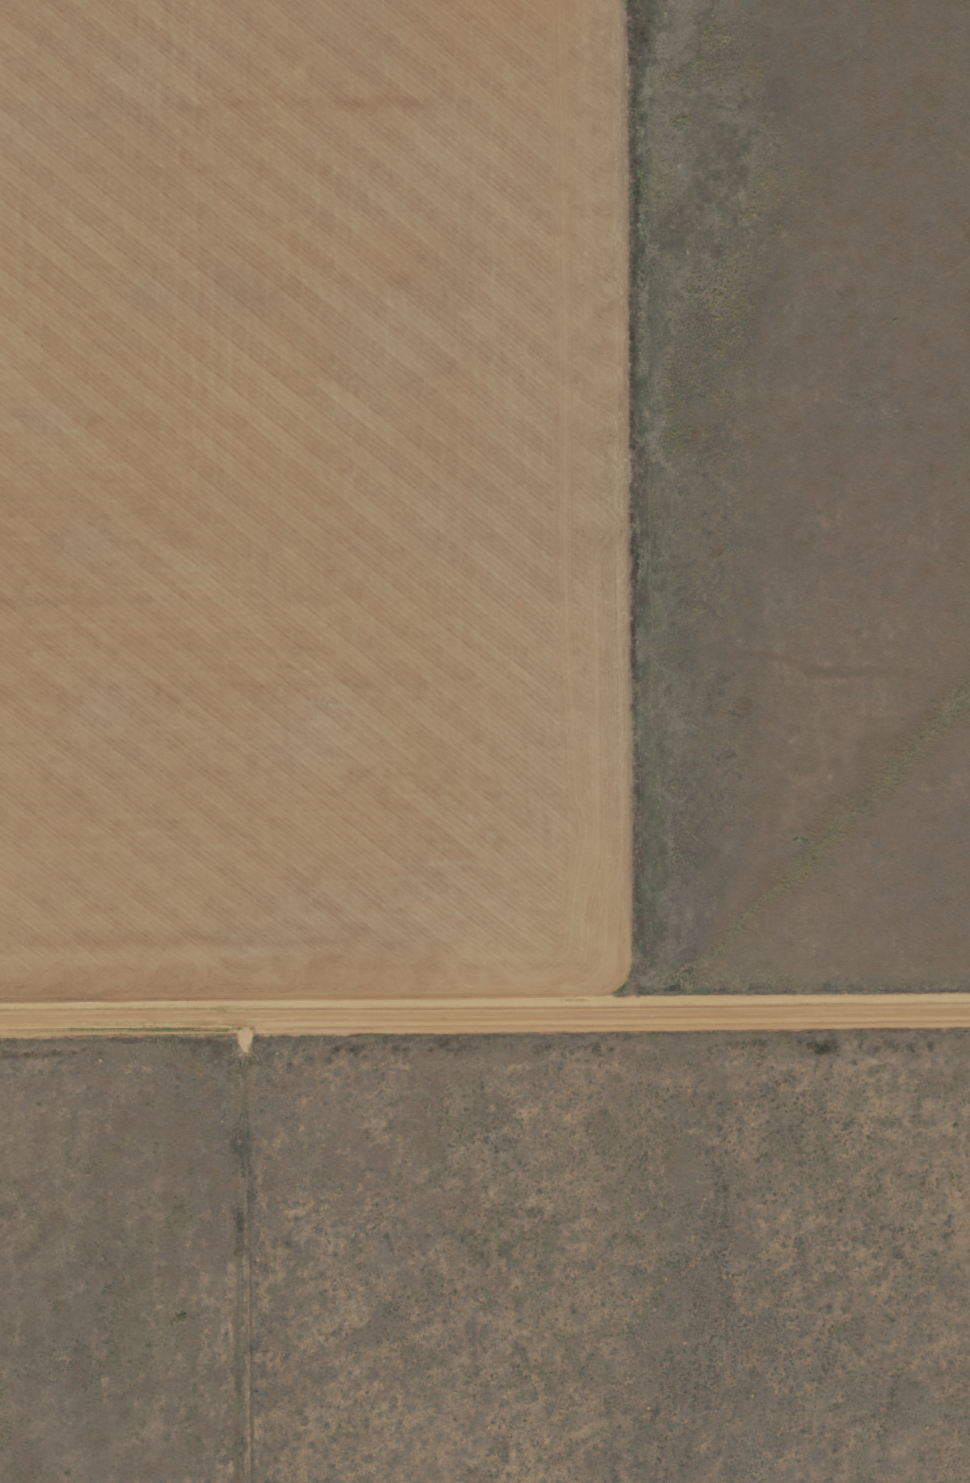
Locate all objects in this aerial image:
road: (485, 1045)

